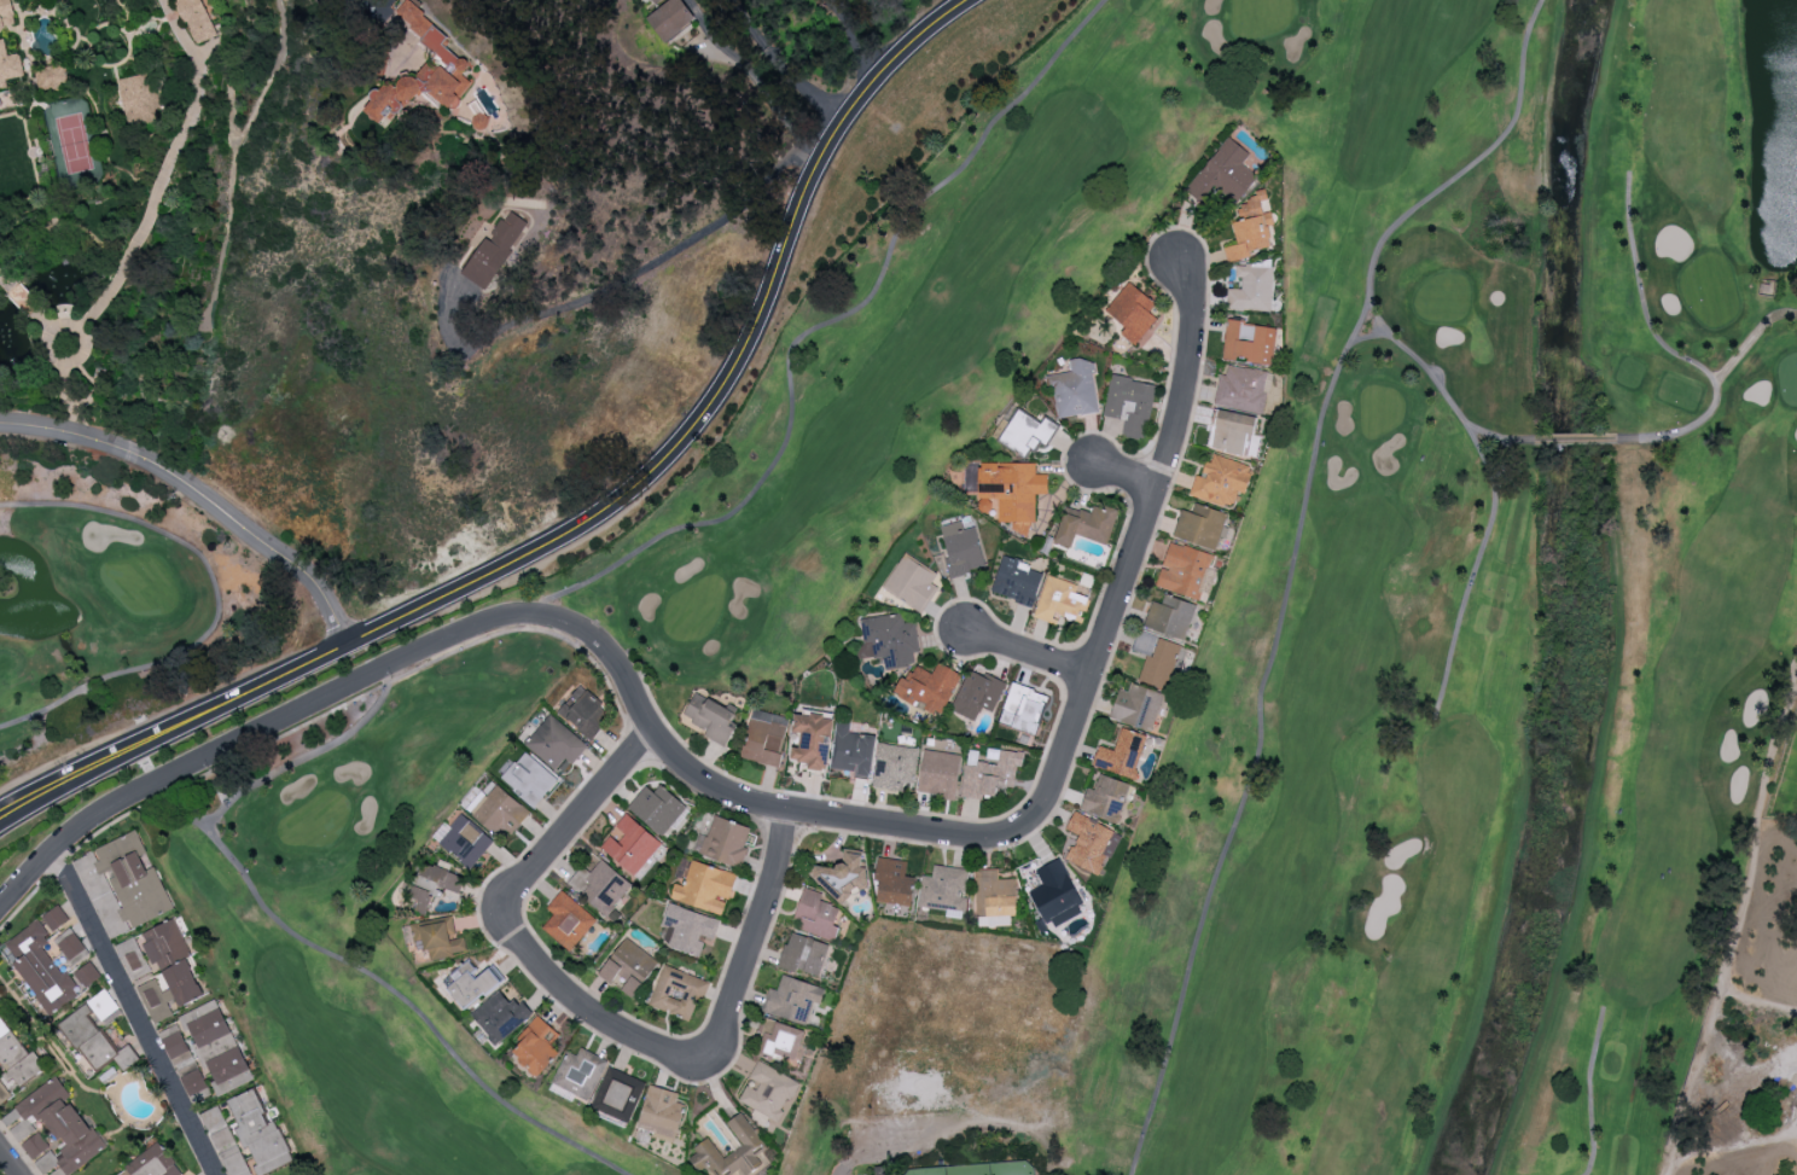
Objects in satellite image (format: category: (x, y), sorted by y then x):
building: (651, 1)
building: (669, 18)
building: (194, 19)
road: (853, 40)
building: (2, 45)
road: (763, 64)
building: (426, 72)
building: (51, 76)
building: (138, 98)
building: (1223, 173)
building: (1250, 228)
building: (495, 250)
road: (607, 286)
building: (1251, 287)
building: (1132, 312)
road: (1367, 336)
road: (1750, 337)
building: (1249, 342)
road: (1668, 349)
building: (1243, 388)
building: (1074, 389)
building: (1129, 405)
building: (1232, 432)
building: (1025, 434)
road: (1500, 437)
road: (1576, 438)
road: (1126, 475)
building: (1221, 481)
road: (1494, 489)
building: (1012, 491)
road: (198, 500)
road: (591, 522)
building: (1086, 525)
building: (1200, 525)
building: (961, 548)
road: (1292, 559)
building: (1182, 570)
building: (1017, 581)
building: (911, 583)
river: (1576, 594)
park: (111, 595)
park: (1361, 599)
building: (1059, 600)
building: (1170, 616)
road: (505, 629)
building: (889, 638)
road: (1029, 655)
building: (1156, 658)
building: (927, 687)
building: (977, 694)
road: (328, 697)
building: (1136, 706)
building: (1023, 709)
building: (585, 711)
building: (711, 717)
building: (764, 738)
building: (812, 740)
road: (1065, 741)
building: (554, 743)
building: (853, 751)
building: (1121, 754)
building: (894, 766)
building: (989, 772)
building: (938, 773)
building: (528, 779)
building: (1105, 798)
building: (657, 808)
building: (498, 812)
building: (463, 839)
building: (723, 842)
building: (629, 845)
road: (534, 863)
building: (842, 873)
building: (132, 879)
building: (892, 882)
building: (432, 884)
building: (600, 886)
building: (704, 888)
building: (994, 894)
building: (1055, 895)
building: (815, 915)
road: (1739, 915)
building: (54, 918)
building: (566, 920)
park: (366, 929)
building: (686, 929)
building: (438, 938)
building: (69, 943)
building: (803, 954)
building: (133, 960)
building: (628, 967)
building: (46, 968)
building: (168, 971)
building: (471, 984)
building: (677, 993)
building: (792, 999)
building: (101, 1005)
road: (728, 1005)
road: (134, 1012)
building: (500, 1016)
building: (210, 1026)
building: (94, 1042)
building: (783, 1042)
building: (535, 1046)
building: (179, 1052)
building: (16, 1055)
building: (228, 1070)
building: (578, 1072)
building: (194, 1084)
road: (1588, 1092)
building: (617, 1094)
building: (661, 1112)
building: (62, 1124)
building: (258, 1133)
building: (223, 1141)
building: (34, 1145)
road: (857, 1145)
building: (732, 1152)
park: (799, 1162)
building: (152, 1163)
road: (7, 1164)
building: (876, 1170)
park: (983, 1170)

